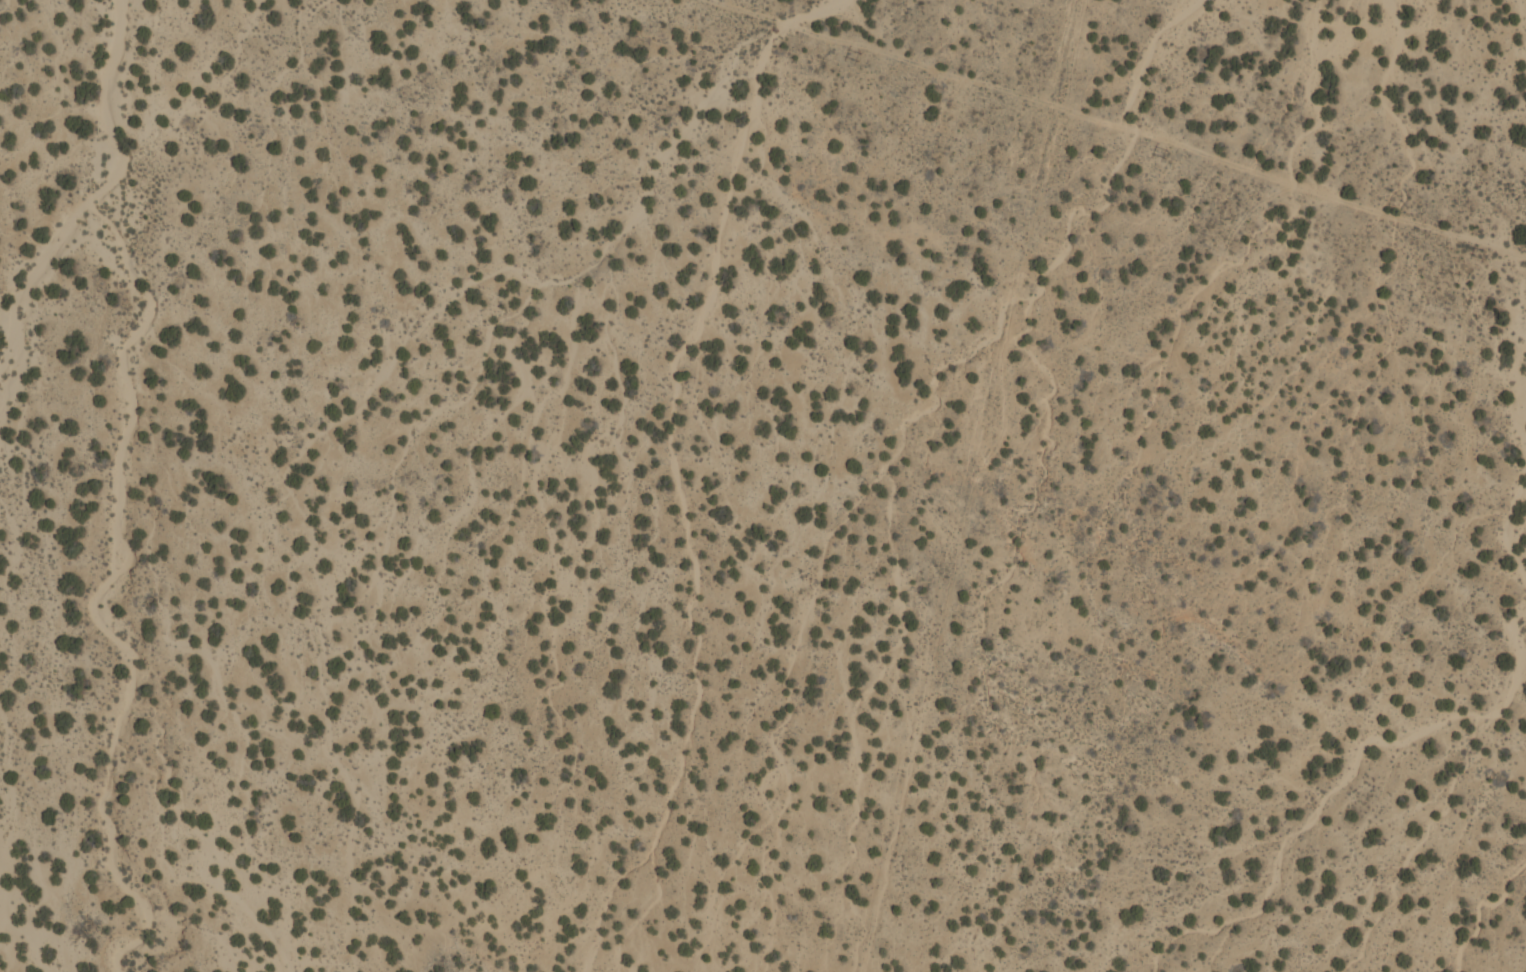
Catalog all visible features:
power tower: (861, 59)
power tower: (1168, 153)
power tower: (1485, 254)

